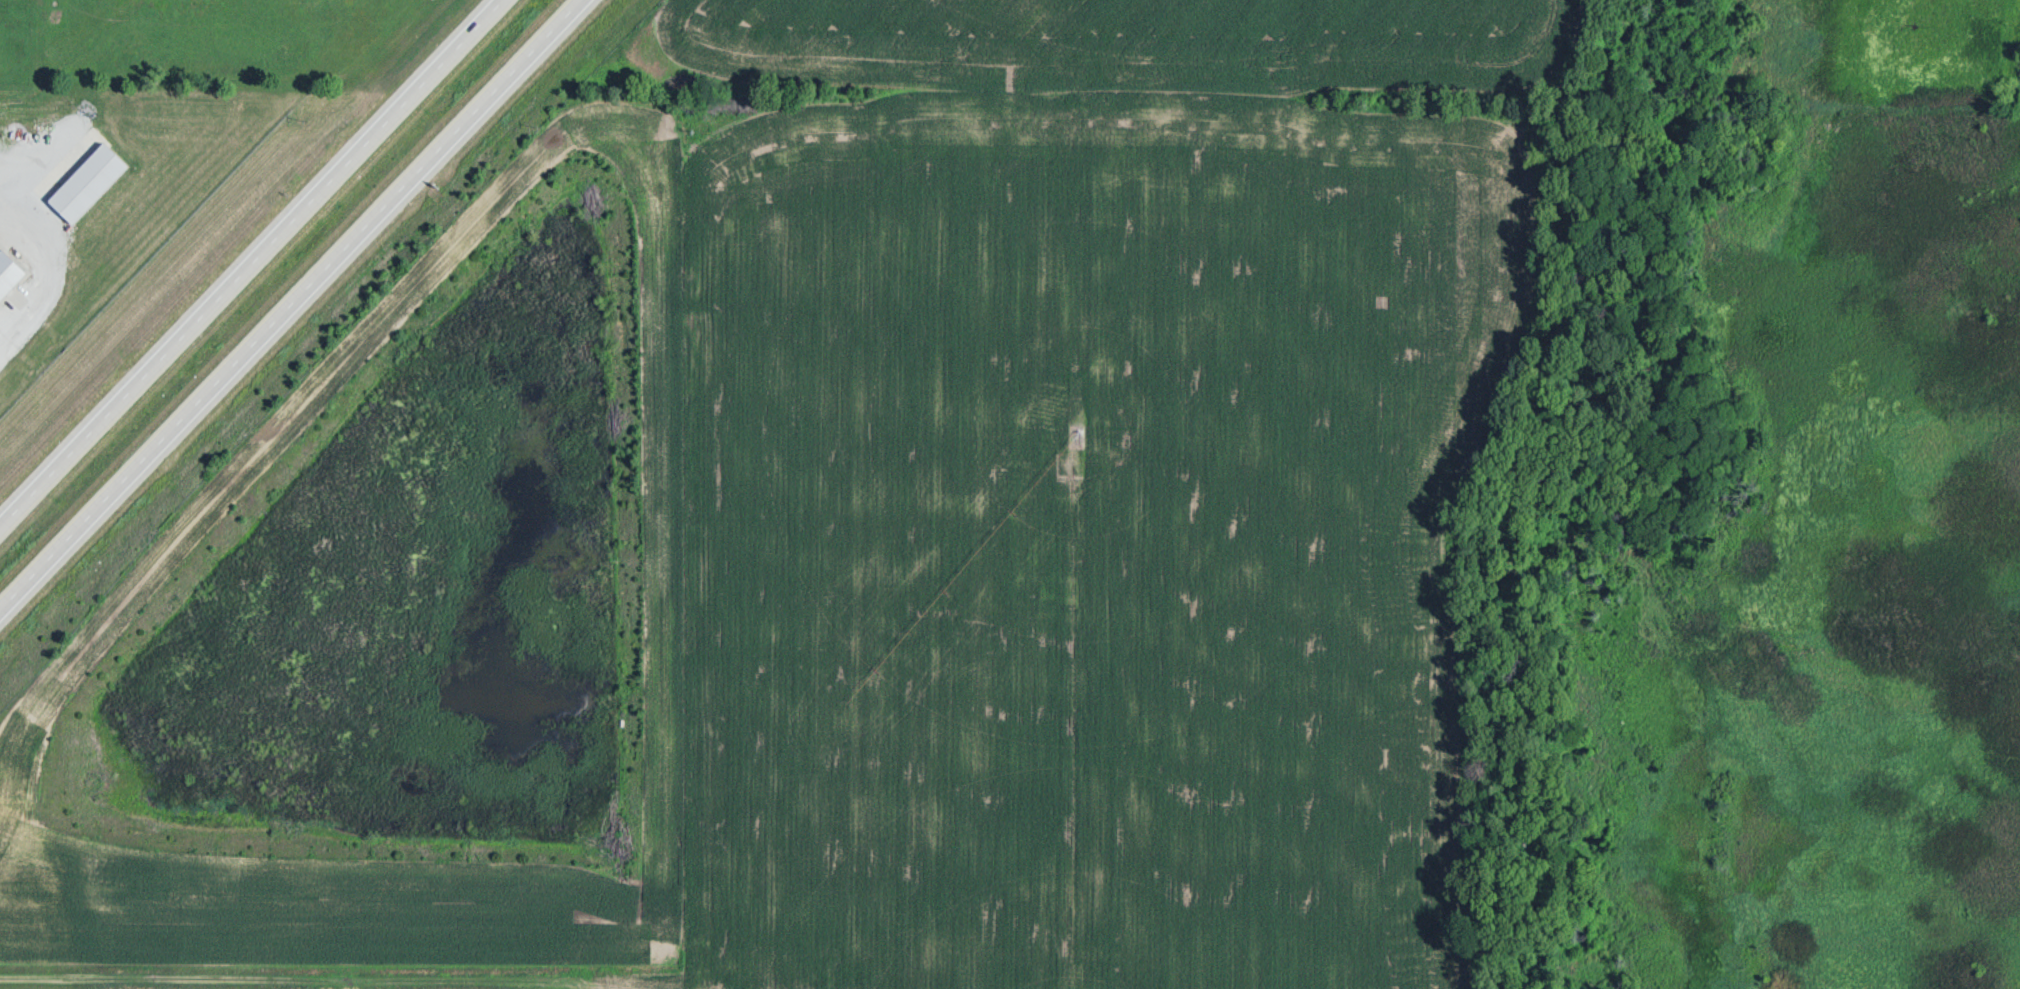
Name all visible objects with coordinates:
building: (93, 180)
road: (250, 263)
road: (302, 307)

